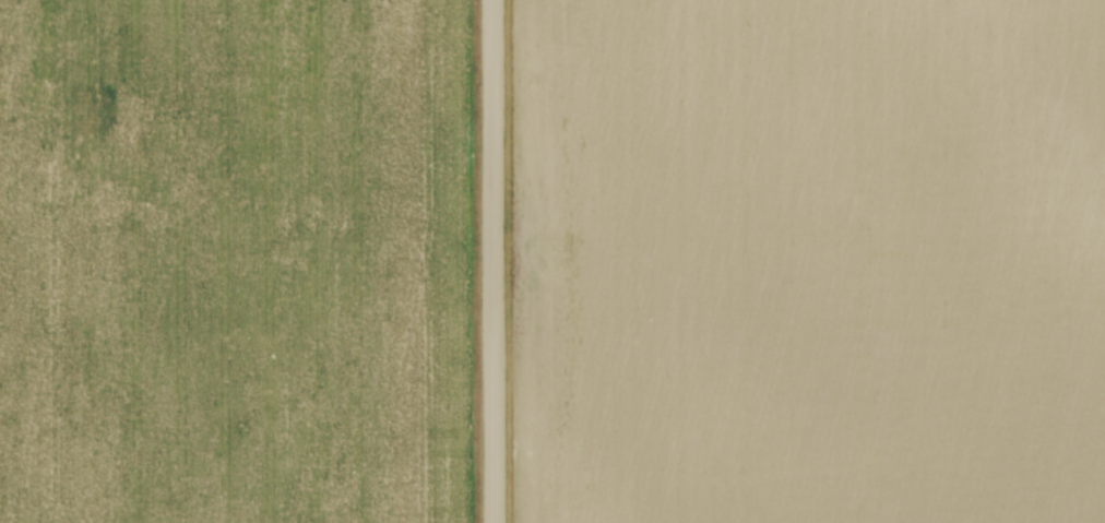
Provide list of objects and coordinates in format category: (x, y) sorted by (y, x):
crop: (234, 261)
road: (492, 261)

